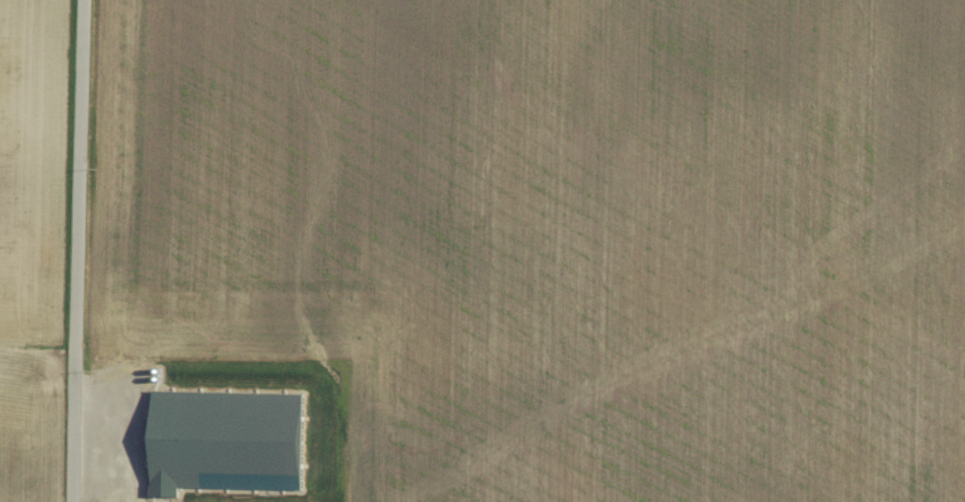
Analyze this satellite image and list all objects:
road: (77, 251)

